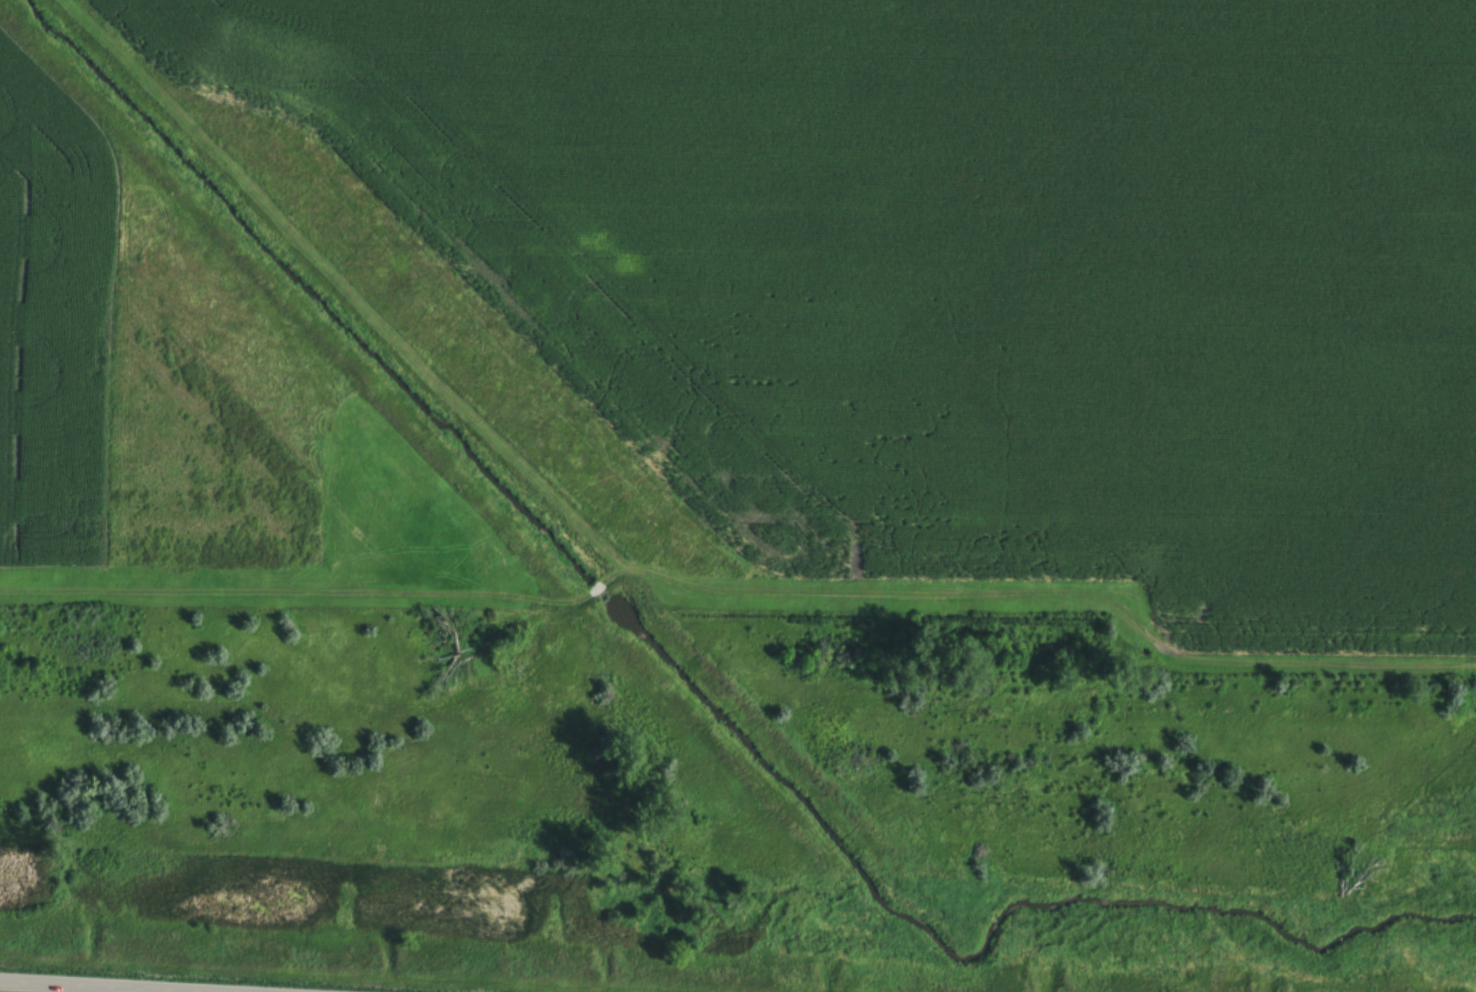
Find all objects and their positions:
road: (110, 985)

